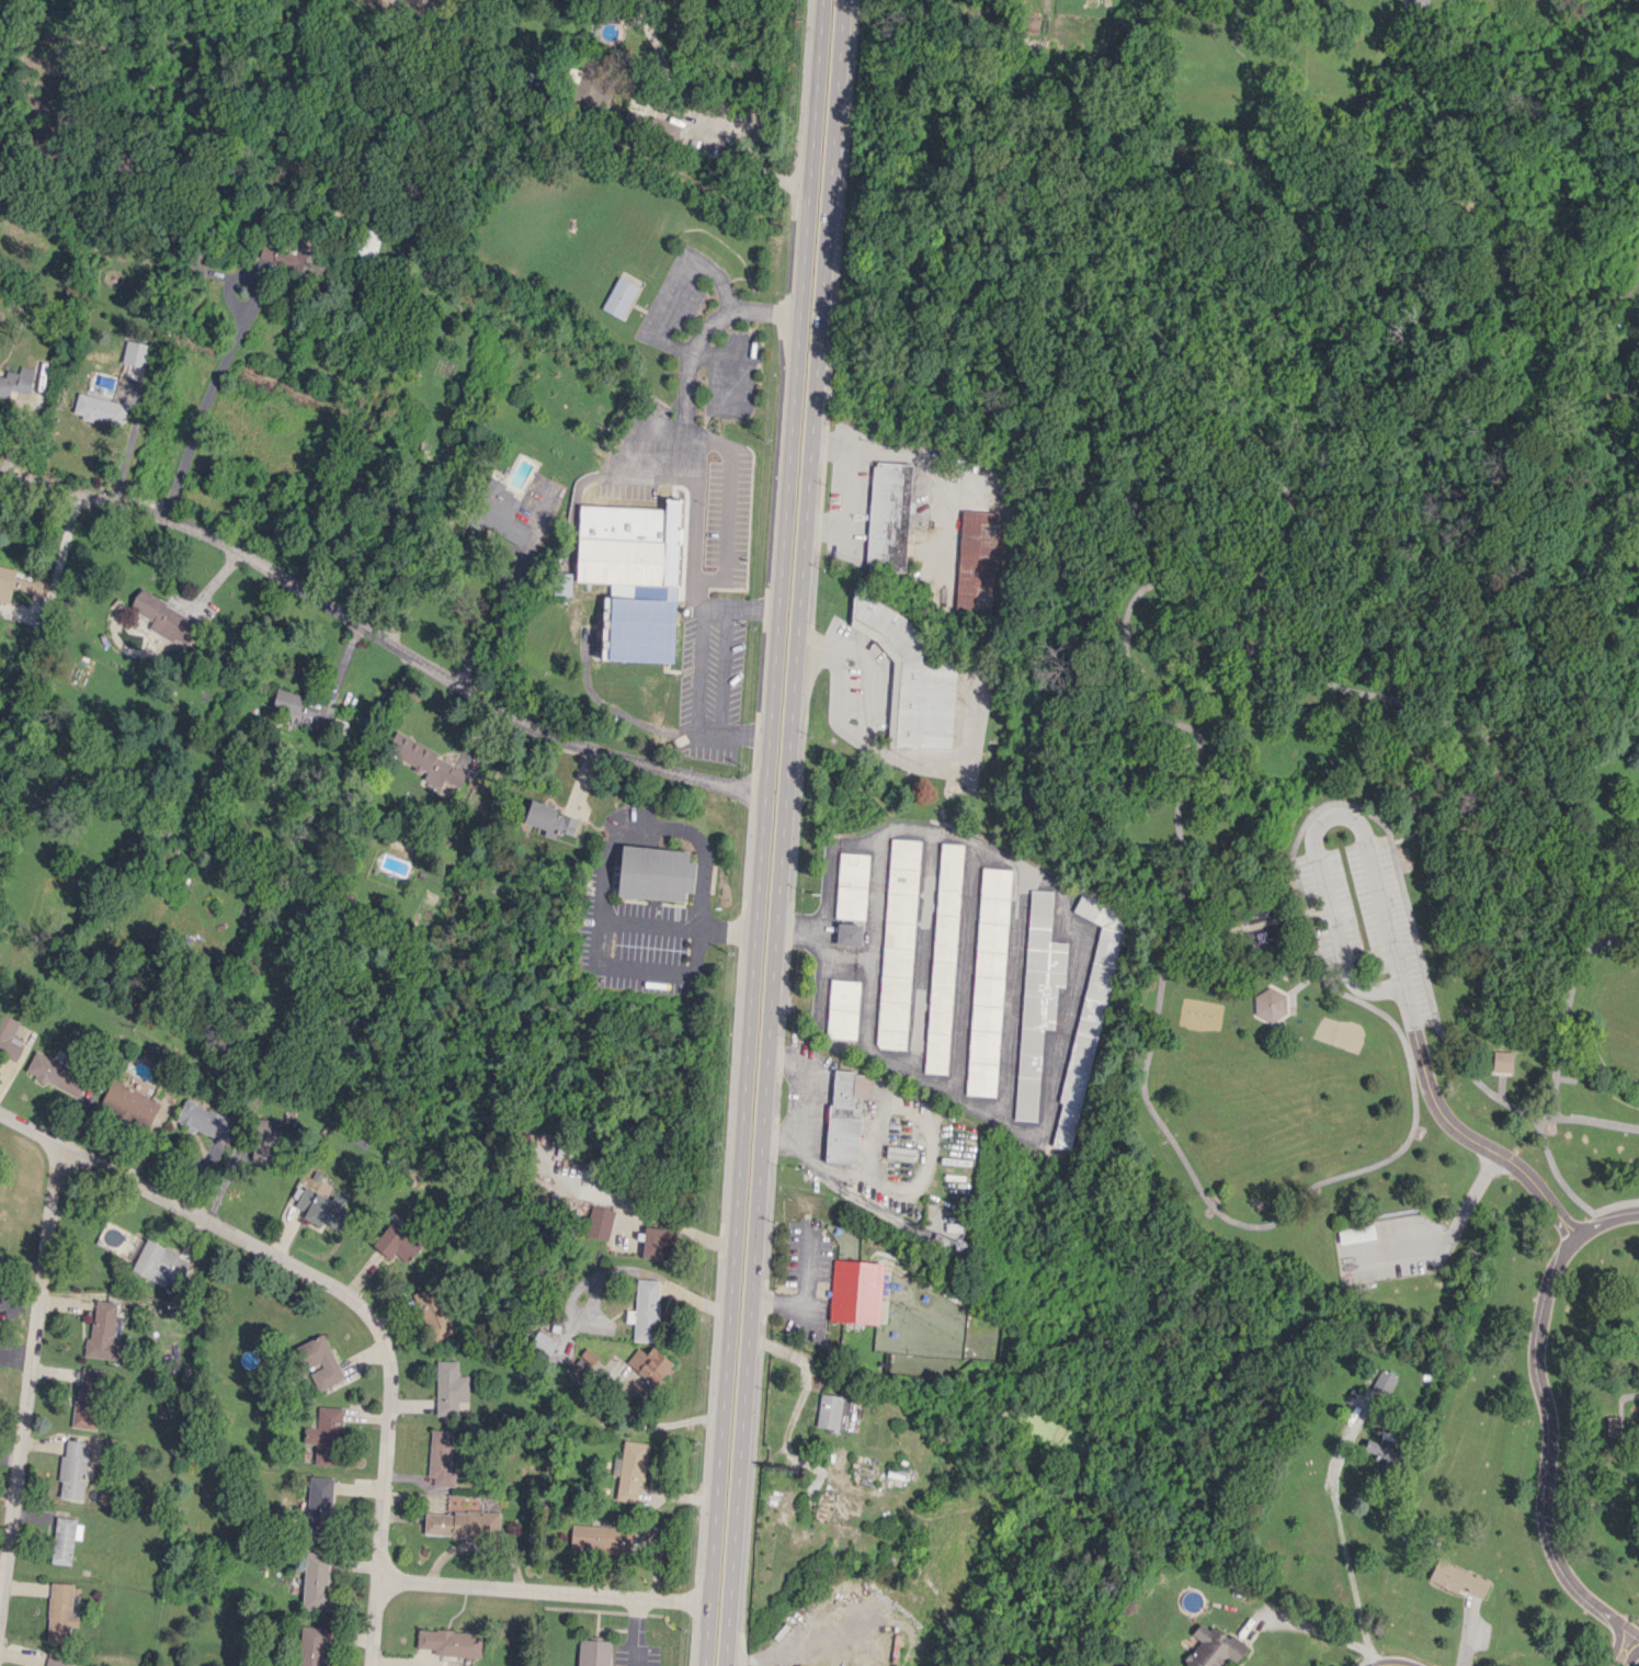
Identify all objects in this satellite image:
building: (1029, 22)
building: (589, 84)
road: (714, 118)
building: (366, 241)
building: (282, 257)
building: (618, 297)
building: (135, 353)
building: (16, 384)
building: (100, 408)
road: (201, 417)
road: (681, 455)
road: (124, 466)
building: (498, 512)
building: (888, 517)
building: (619, 560)
building: (976, 562)
road: (1185, 578)
building: (12, 582)
building: (561, 583)
building: (166, 617)
road: (481, 621)
road: (382, 637)
road: (721, 671)
road: (695, 678)
building: (301, 709)
road: (743, 735)
road: (881, 753)
building: (418, 756)
building: (551, 821)
road: (762, 832)
road: (783, 832)
road: (615, 839)
building: (655, 873)
building: (852, 885)
building: (1261, 929)
road: (726, 931)
road: (1390, 932)
building: (849, 934)
road: (1613, 940)
building: (898, 943)
parking lot: (1376, 948)
building: (943, 957)
road: (1581, 965)
road: (644, 971)
park: (1392, 976)
building: (988, 982)
building: (1037, 997)
building: (1270, 1004)
building: (843, 1009)
road: (1381, 1012)
building: (1088, 1015)
building: (9, 1038)
building: (1502, 1061)
building: (54, 1074)
building: (129, 1102)
building: (845, 1114)
building: (206, 1120)
road: (1537, 1123)
building: (269, 1135)
road: (1614, 1202)
building: (320, 1208)
building: (600, 1222)
road: (675, 1225)
building: (1356, 1234)
building: (652, 1242)
building: (395, 1244)
building: (159, 1263)
road: (307, 1271)
road: (806, 1272)
building: (855, 1291)
road: (777, 1301)
building: (645, 1311)
building: (432, 1313)
building: (103, 1333)
building: (543, 1342)
building: (589, 1359)
building: (318, 1361)
building: (649, 1364)
road: (27, 1375)
building: (1384, 1381)
building: (451, 1389)
building: (88, 1397)
building: (832, 1412)
road: (1547, 1417)
building: (326, 1436)
building: (441, 1459)
building: (72, 1470)
building: (630, 1470)
building: (318, 1503)
building: (460, 1523)
building: (65, 1539)
building: (595, 1539)
road: (1344, 1546)
building: (1458, 1579)
building: (316, 1580)
road: (544, 1590)
building: (59, 1612)
road: (375, 1622)
road: (1312, 1630)
road: (635, 1632)
building: (451, 1642)
building: (311, 1645)
building: (1213, 1647)
road: (1386, 1651)
road: (1628, 1652)
building: (593, 1653)
building: (55, 1662)

